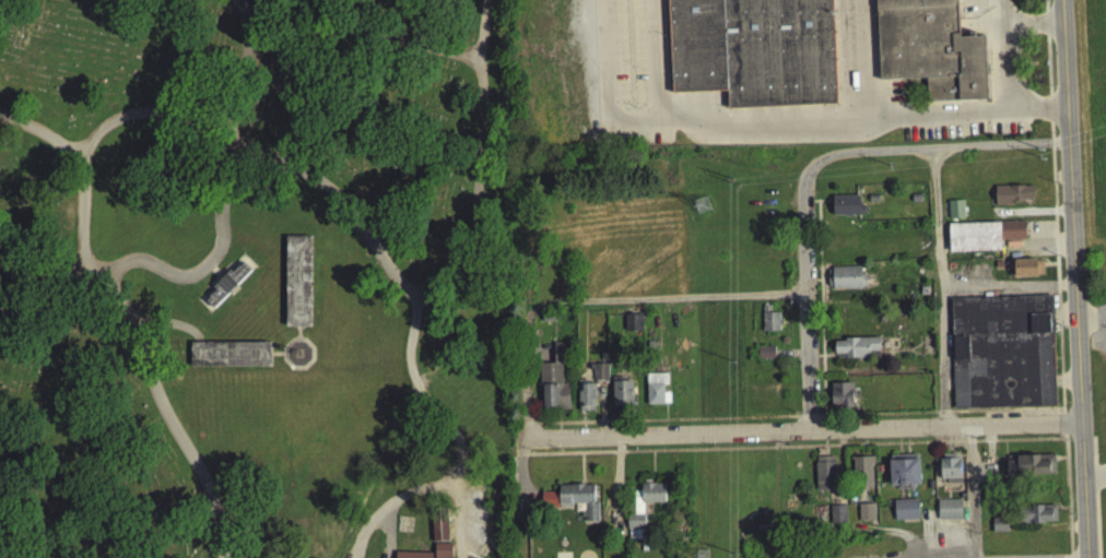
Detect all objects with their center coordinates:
road: (1012, 9)
road: (396, 45)
building: (752, 51)
building: (926, 51)
road: (857, 58)
road: (1004, 61)
road: (248, 62)
road: (1047, 71)
road: (149, 110)
road: (791, 120)
road: (43, 131)
road: (1050, 147)
road: (809, 175)
road: (472, 189)
building: (1012, 200)
power tower: (702, 203)
road: (355, 212)
building: (847, 212)
building: (955, 215)
building: (983, 241)
road: (212, 254)
building: (1027, 274)
road: (1072, 278)
park: (256, 280)
building: (847, 283)
road: (43, 284)
road: (1056, 285)
building: (296, 287)
building: (224, 290)
road: (941, 292)
road: (1008, 294)
road: (600, 304)
road: (1090, 311)
building: (769, 328)
road: (143, 354)
building: (857, 354)
building: (1001, 356)
building: (766, 358)
building: (230, 360)
building: (599, 378)
building: (553, 388)
building: (844, 393)
building: (656, 395)
building: (622, 399)
building: (586, 403)
road: (938, 417)
road: (791, 422)
road: (807, 422)
road: (710, 424)
road: (579, 427)
road: (1061, 429)
road: (797, 436)
road: (1062, 441)
road: (461, 444)
road: (848, 450)
road: (988, 462)
building: (1029, 471)
building: (950, 473)
road: (1093, 475)
building: (903, 476)
building: (862, 478)
building: (825, 479)
road: (519, 480)
road: (970, 495)
road: (1093, 499)
road: (391, 502)
building: (574, 504)
building: (643, 513)
building: (949, 514)
building: (905, 515)
building: (866, 518)
building: (837, 520)
building: (1038, 520)
building: (998, 531)
building: (438, 535)
building: (442, 554)
power tower: (703, 555)

